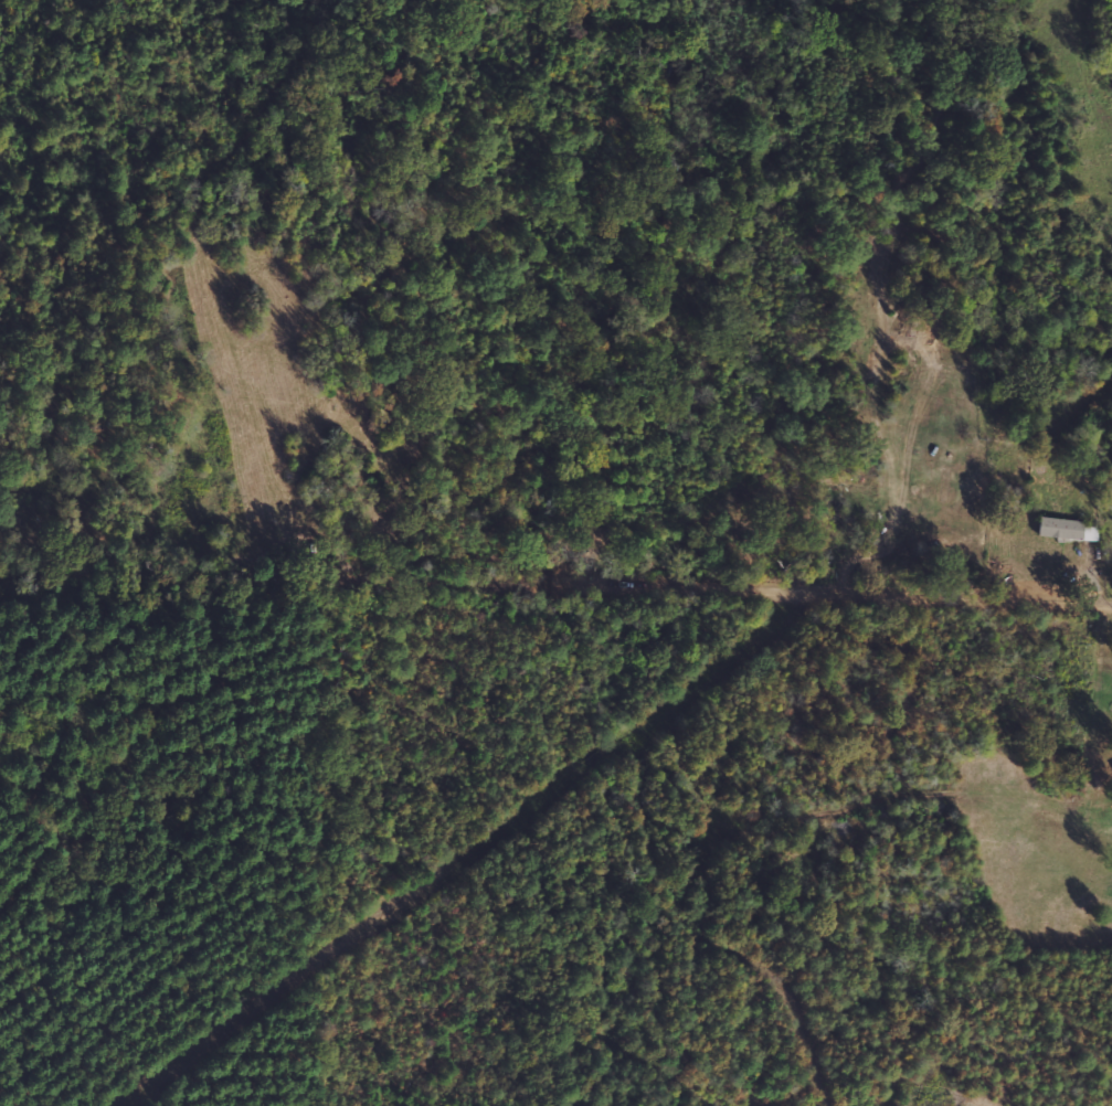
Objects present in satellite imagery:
building: (1066, 529)

